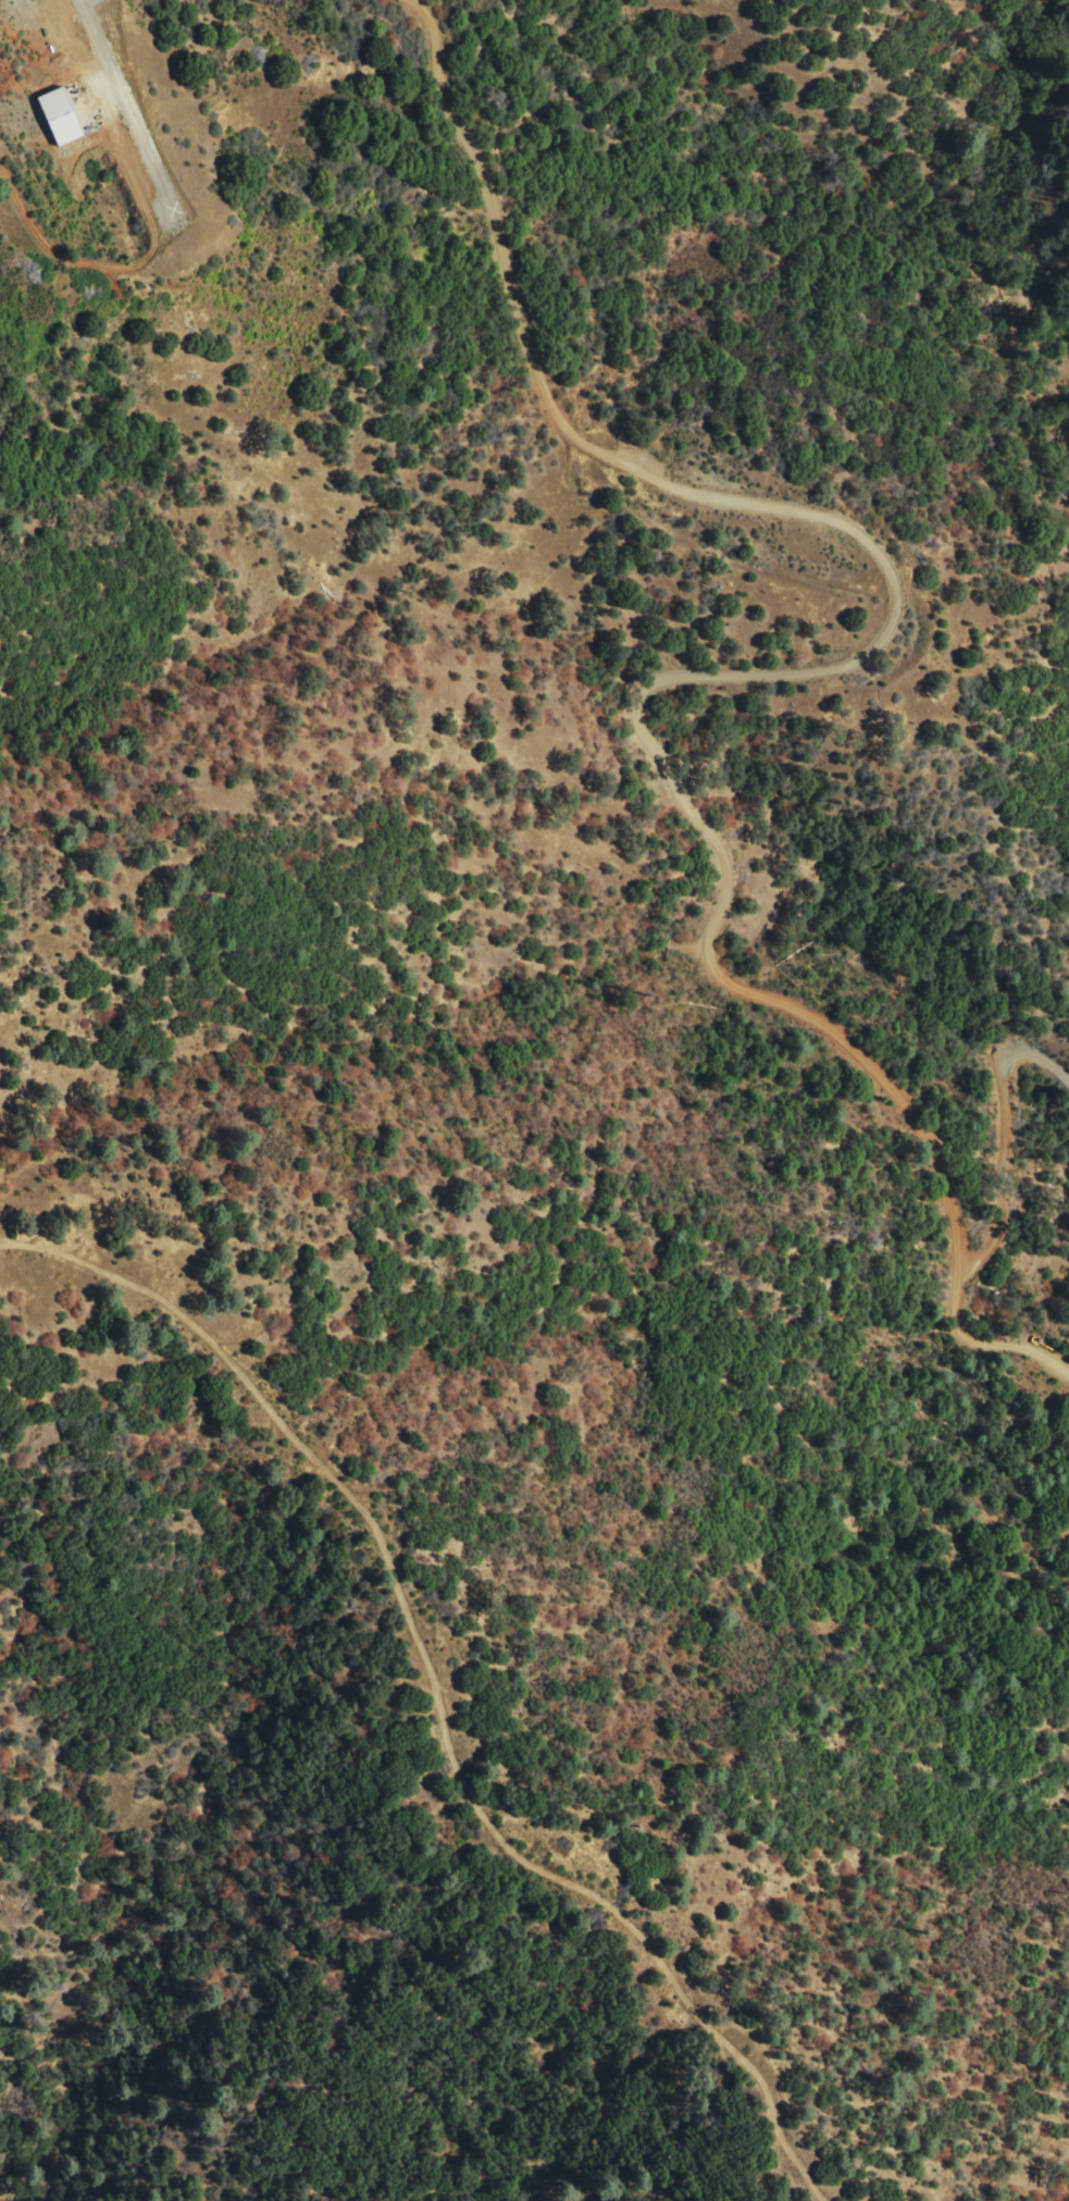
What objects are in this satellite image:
road: (102, 42)
building: (62, 118)

